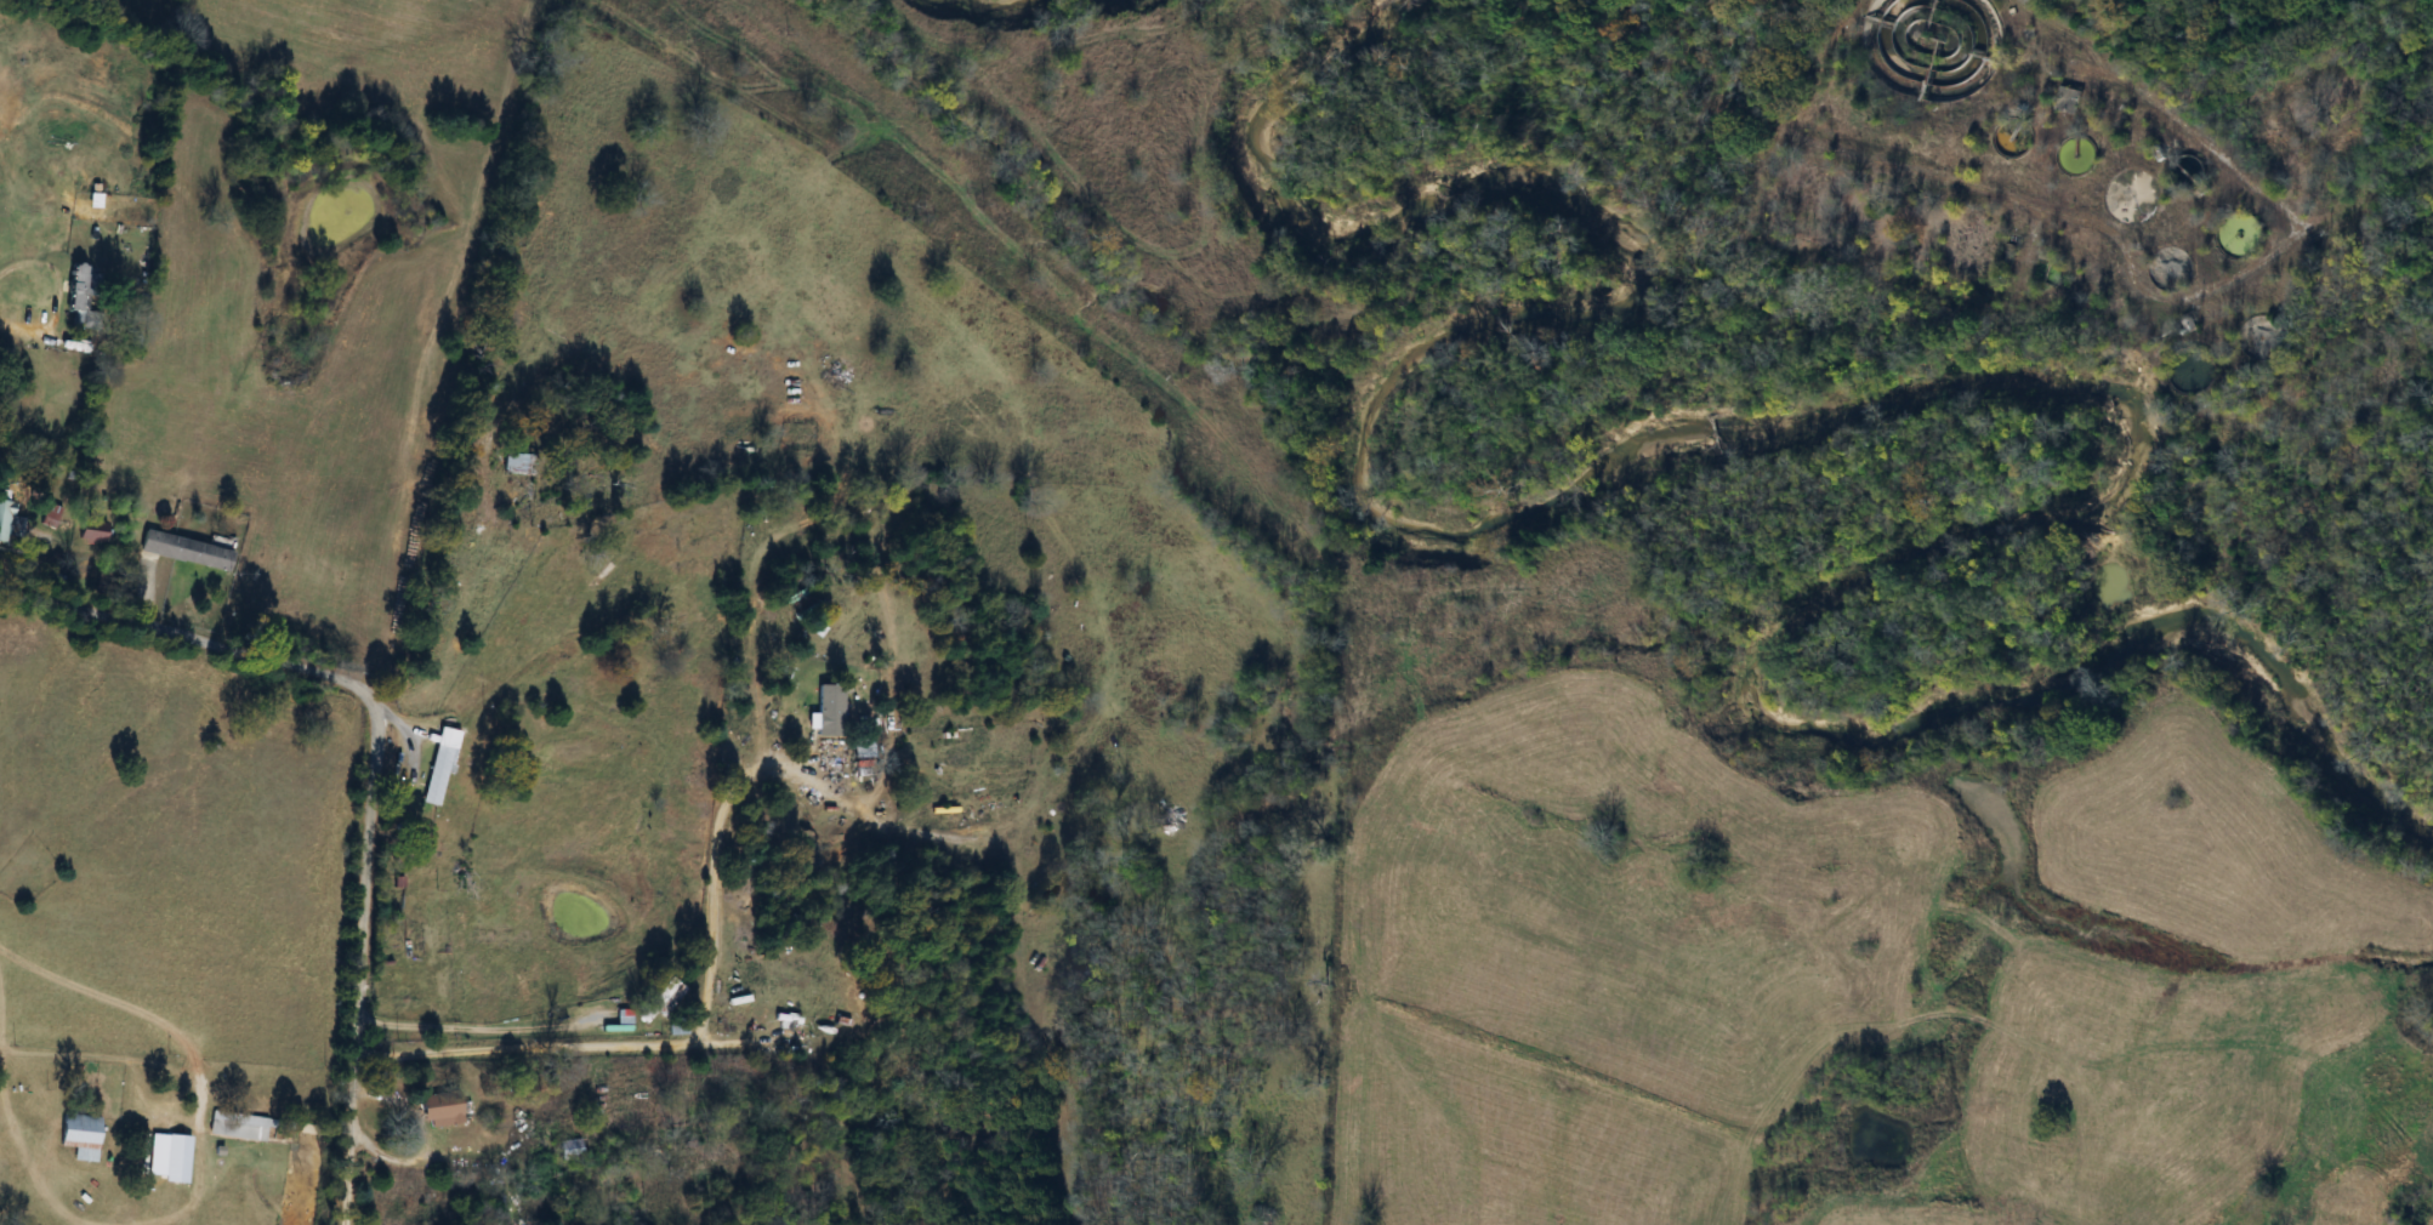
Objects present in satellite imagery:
building: (1904, 35)
building: (2068, 102)
building: (72, 289)
road: (56, 296)
building: (973, 416)
building: (511, 466)
building: (1, 517)
building: (51, 517)
building: (90, 532)
building: (184, 553)
building: (826, 711)
building: (859, 750)
road: (368, 767)
building: (438, 768)
building: (658, 1002)
road: (471, 1026)
road: (694, 1039)
building: (438, 1110)
building: (237, 1128)
building: (79, 1138)
building: (569, 1151)
building: (174, 1161)

